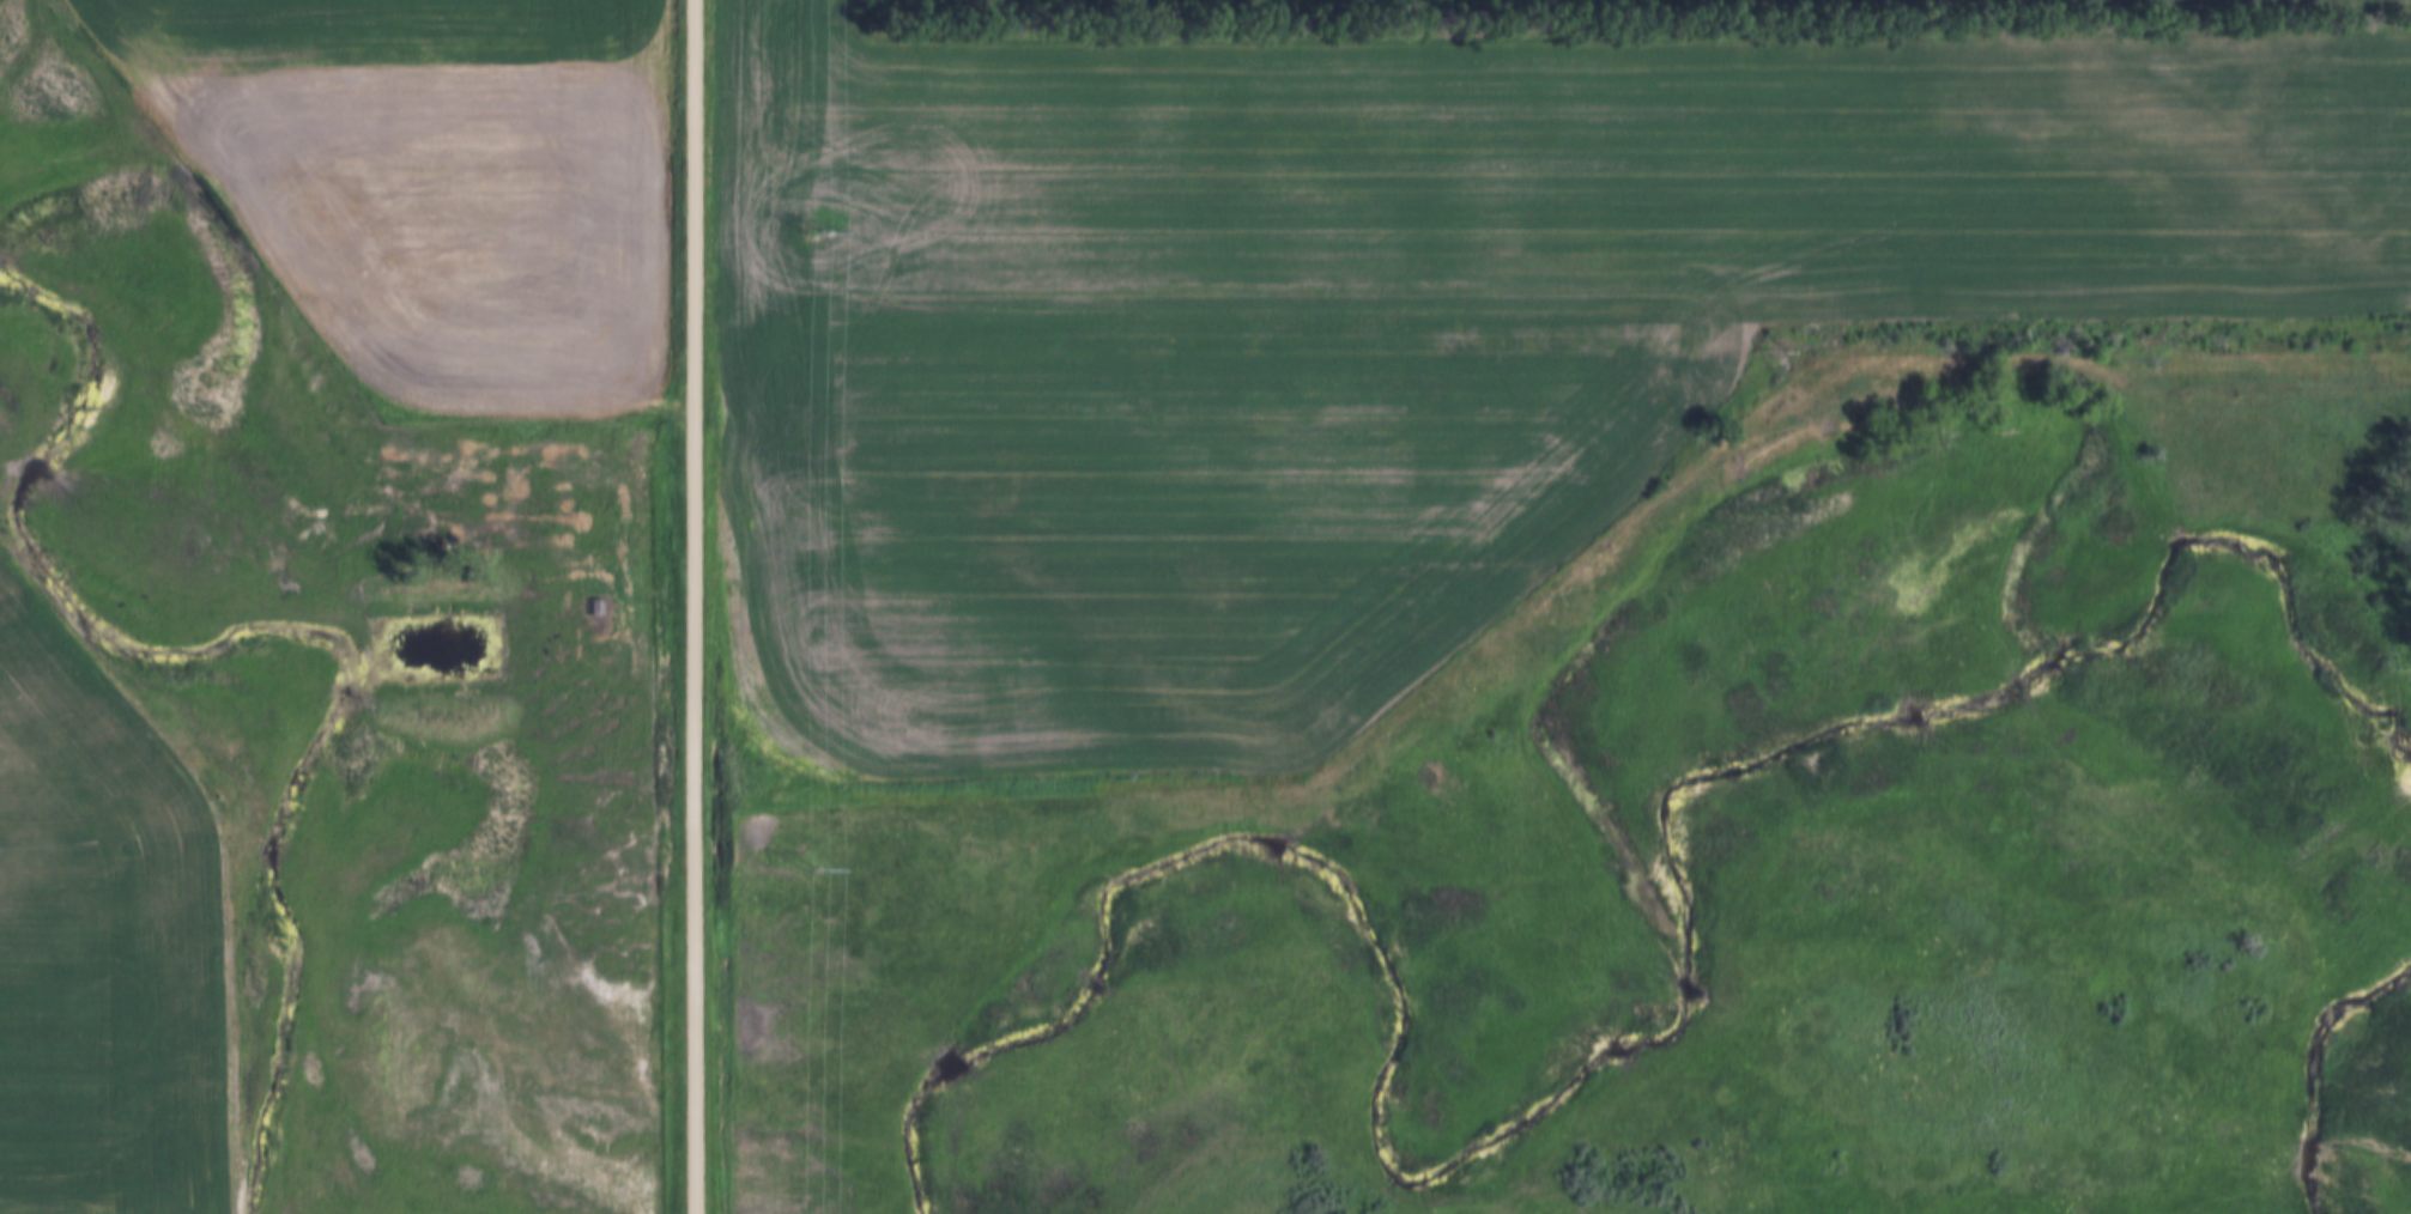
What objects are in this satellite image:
power tower: (810, 236)
road: (695, 606)
power tower: (808, 875)

